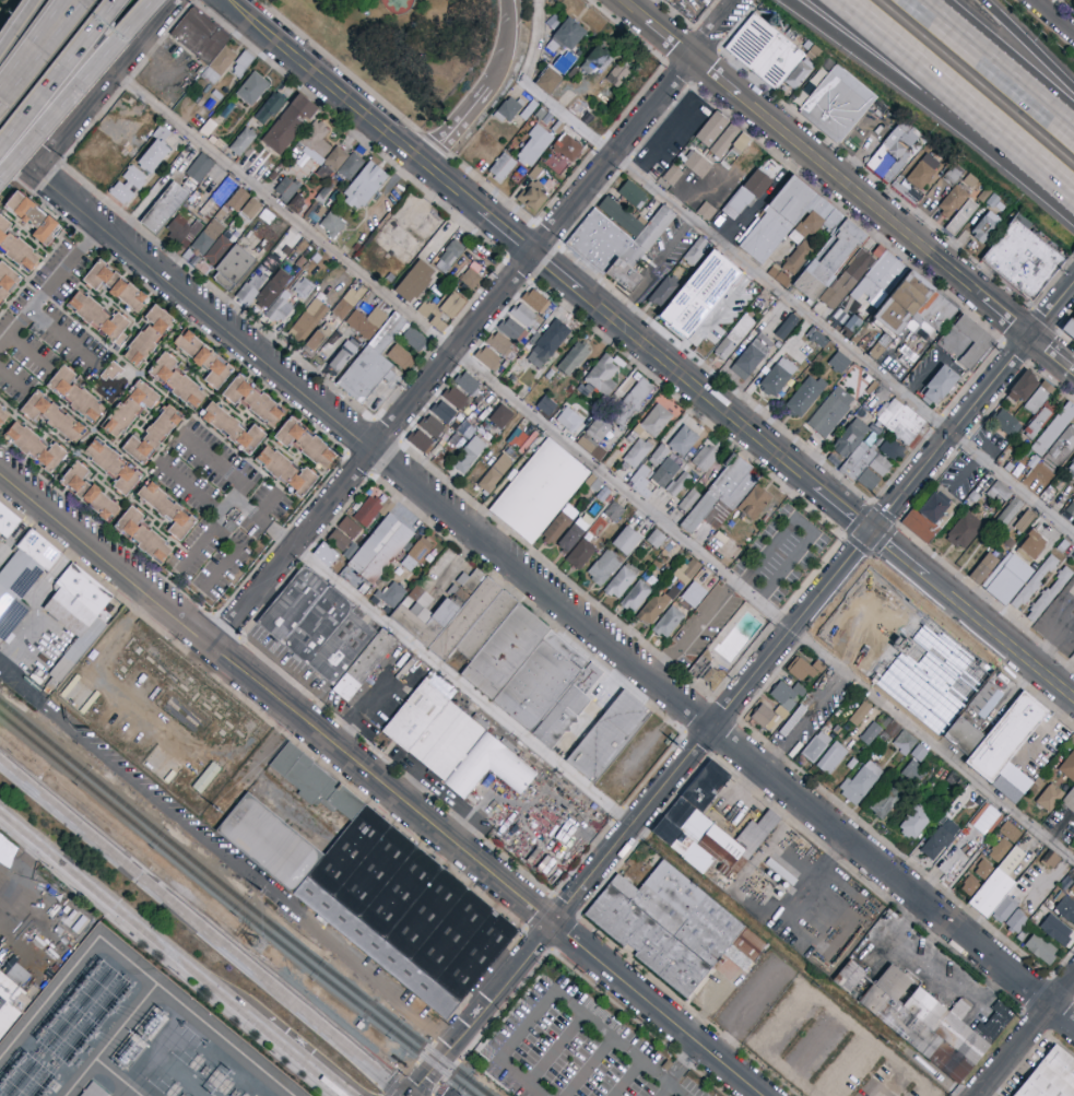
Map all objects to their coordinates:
road: (70, 7)
road: (72, 7)
road: (1053, 16)
road: (17, 25)
building: (566, 33)
building: (201, 38)
road: (506, 44)
park: (406, 45)
road: (1028, 46)
road: (33, 54)
building: (769, 55)
road: (160, 58)
building: (238, 62)
building: (597, 62)
road: (339, 64)
road: (993, 66)
road: (59, 73)
building: (617, 75)
road: (326, 81)
building: (548, 81)
road: (917, 81)
road: (945, 81)
road: (105, 82)
road: (79, 86)
building: (252, 89)
road: (473, 102)
building: (837, 104)
building: (269, 109)
building: (508, 109)
building: (290, 125)
building: (711, 129)
building: (862, 135)
road: (441, 140)
building: (243, 141)
road: (432, 141)
building: (730, 142)
building: (533, 146)
road: (593, 148)
building: (894, 151)
building: (154, 152)
building: (328, 152)
building: (563, 152)
road: (16, 153)
building: (696, 164)
building: (197, 166)
building: (501, 168)
road: (1059, 174)
building: (953, 175)
building: (672, 176)
building: (920, 181)
building: (129, 186)
building: (365, 187)
road: (847, 187)
building: (285, 189)
building: (634, 195)
building: (746, 195)
building: (531, 198)
building: (180, 200)
building: (238, 200)
building: (316, 201)
building: (952, 202)
building: (158, 208)
building: (251, 209)
building: (706, 212)
building: (33, 217)
building: (959, 220)
building: (780, 222)
building: (332, 225)
building: (986, 227)
road: (449, 229)
building: (182, 232)
building: (650, 238)
building: (601, 243)
building: (16, 248)
building: (696, 251)
building: (449, 256)
building: (833, 262)
building: (1026, 263)
building: (234, 270)
building: (332, 276)
building: (626, 278)
road: (767, 278)
building: (469, 279)
building: (8, 281)
building: (414, 282)
building: (264, 283)
road: (50, 285)
building: (684, 285)
building: (847, 286)
building: (117, 287)
building: (303, 287)
building: (876, 294)
building: (350, 300)
building: (535, 300)
building: (282, 311)
building: (442, 311)
building: (941, 315)
building: (524, 316)
building: (99, 318)
building: (307, 321)
building: (365, 321)
road: (479, 321)
building: (699, 321)
building: (786, 326)
building: (1069, 327)
building: (512, 330)
road: (63, 337)
building: (149, 338)
building: (734, 338)
building: (817, 338)
building: (318, 340)
building: (415, 341)
building: (546, 344)
building: (969, 344)
road: (28, 351)
building: (496, 351)
building: (343, 356)
building: (752, 356)
building: (401, 357)
building: (574, 358)
building: (204, 360)
building: (839, 363)
building: (373, 365)
road: (482, 369)
building: (110, 373)
building: (600, 377)
building: (777, 377)
building: (177, 381)
building: (468, 384)
building: (933, 384)
road: (12, 385)
building: (942, 388)
building: (1022, 389)
building: (74, 394)
building: (805, 396)
building: (456, 398)
building: (255, 401)
building: (633, 402)
building: (545, 405)
building: (130, 409)
building: (1038, 409)
building: (445, 412)
building: (830, 412)
building: (3, 416)
building: (52, 416)
building: (500, 416)
building: (569, 420)
building: (656, 422)
building: (1005, 423)
building: (912, 424)
building: (233, 428)
road: (748, 429)
building: (1053, 429)
building: (426, 434)
building: (153, 436)
building: (846, 436)
building: (595, 437)
building: (305, 443)
building: (854, 443)
building: (1062, 445)
building: (34, 446)
building: (637, 453)
building: (469, 455)
building: (660, 455)
building: (705, 459)
building: (862, 463)
building: (884, 464)
building: (113, 465)
building: (1071, 467)
building: (286, 472)
building: (495, 473)
building: (648, 473)
building: (1037, 478)
building: (678, 484)
building: (540, 491)
building: (88, 492)
building: (1000, 492)
building: (688, 500)
building: (723, 500)
building: (1070, 509)
building: (168, 510)
building: (613, 512)
building: (1016, 517)
building: (929, 518)
road: (264, 522)
building: (8, 525)
building: (354, 525)
building: (1072, 525)
building: (964, 532)
building: (563, 533)
building: (143, 535)
building: (657, 539)
building: (626, 541)
building: (1031, 545)
building: (323, 553)
building: (381, 553)
building: (581, 554)
building: (417, 555)
building: (604, 567)
building: (983, 568)
building: (686, 570)
building: (622, 581)
building: (23, 582)
building: (1014, 584)
building: (391, 594)
road: (554, 594)
building: (694, 594)
building: (1049, 594)
building: (636, 597)
building: (78, 603)
building: (654, 608)
building: (868, 609)
building: (462, 622)
building: (669, 623)
road: (887, 624)
building: (317, 628)
road: (834, 635)
road: (1053, 639)
road: (914, 646)
building: (82, 648)
building: (507, 655)
road: (955, 662)
building: (701, 665)
building: (365, 668)
building: (801, 670)
road: (464, 684)
road: (744, 690)
building: (981, 699)
building: (784, 708)
building: (860, 715)
building: (420, 716)
road: (805, 720)
building: (869, 733)
building: (609, 735)
building: (967, 741)
building: (1010, 741)
building: (905, 743)
building: (816, 746)
building: (920, 754)
building: (468, 757)
building: (831, 758)
road: (959, 765)
building: (1067, 767)
power tower: (178, 770)
building: (912, 771)
building: (206, 778)
road: (383, 782)
building: (860, 782)
building: (1011, 793)
building: (1049, 798)
building: (886, 803)
building: (1070, 804)
building: (982, 818)
building: (914, 822)
building: (712, 830)
building: (1010, 832)
building: (940, 840)
road: (776, 844)
building: (1048, 859)
building: (982, 869)
road: (813, 876)
building: (1063, 882)
building: (1046, 888)
building: (999, 889)
building: (1071, 891)
railway: (240, 903)
railway: (234, 908)
building: (861, 908)
building: (1065, 909)
power tower: (291, 912)
road: (131, 917)
building: (406, 918)
road: (10, 922)
building: (1017, 922)
building: (672, 930)
road: (199, 931)
building: (1055, 931)
building: (1020, 934)
power tower: (264, 945)
building: (1040, 948)
road: (928, 971)
building: (13, 974)
road: (553, 995)
road: (815, 997)
road: (704, 1004)
building: (11, 1007)
road: (744, 1011)
building: (928, 1024)
power substation: (135, 1037)
road: (1027, 1037)
road: (816, 1046)
road: (553, 1050)
road: (305, 1061)
road: (588, 1068)
road: (674, 1069)
road: (849, 1069)
building: (1052, 1077)
road: (627, 1079)
road: (886, 1081)
building: (95, 1091)
road: (666, 1091)

